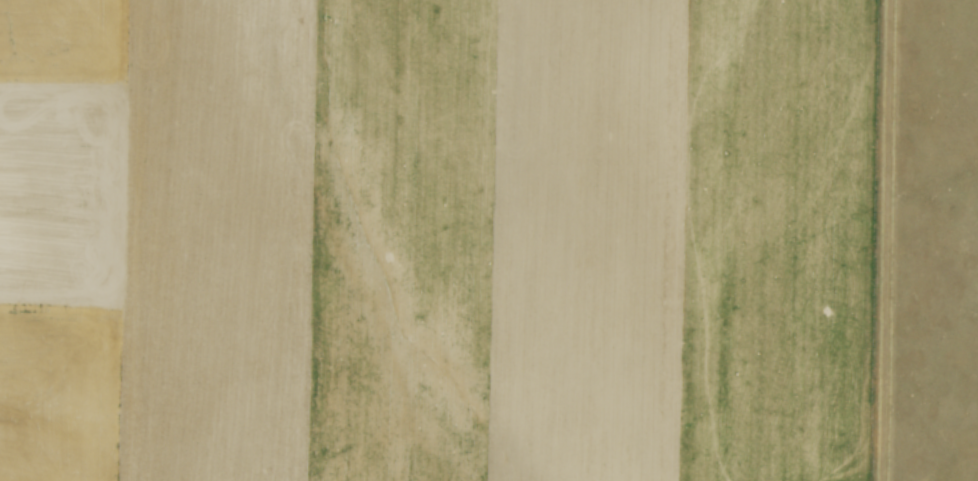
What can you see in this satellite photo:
crop: (442, 240)

